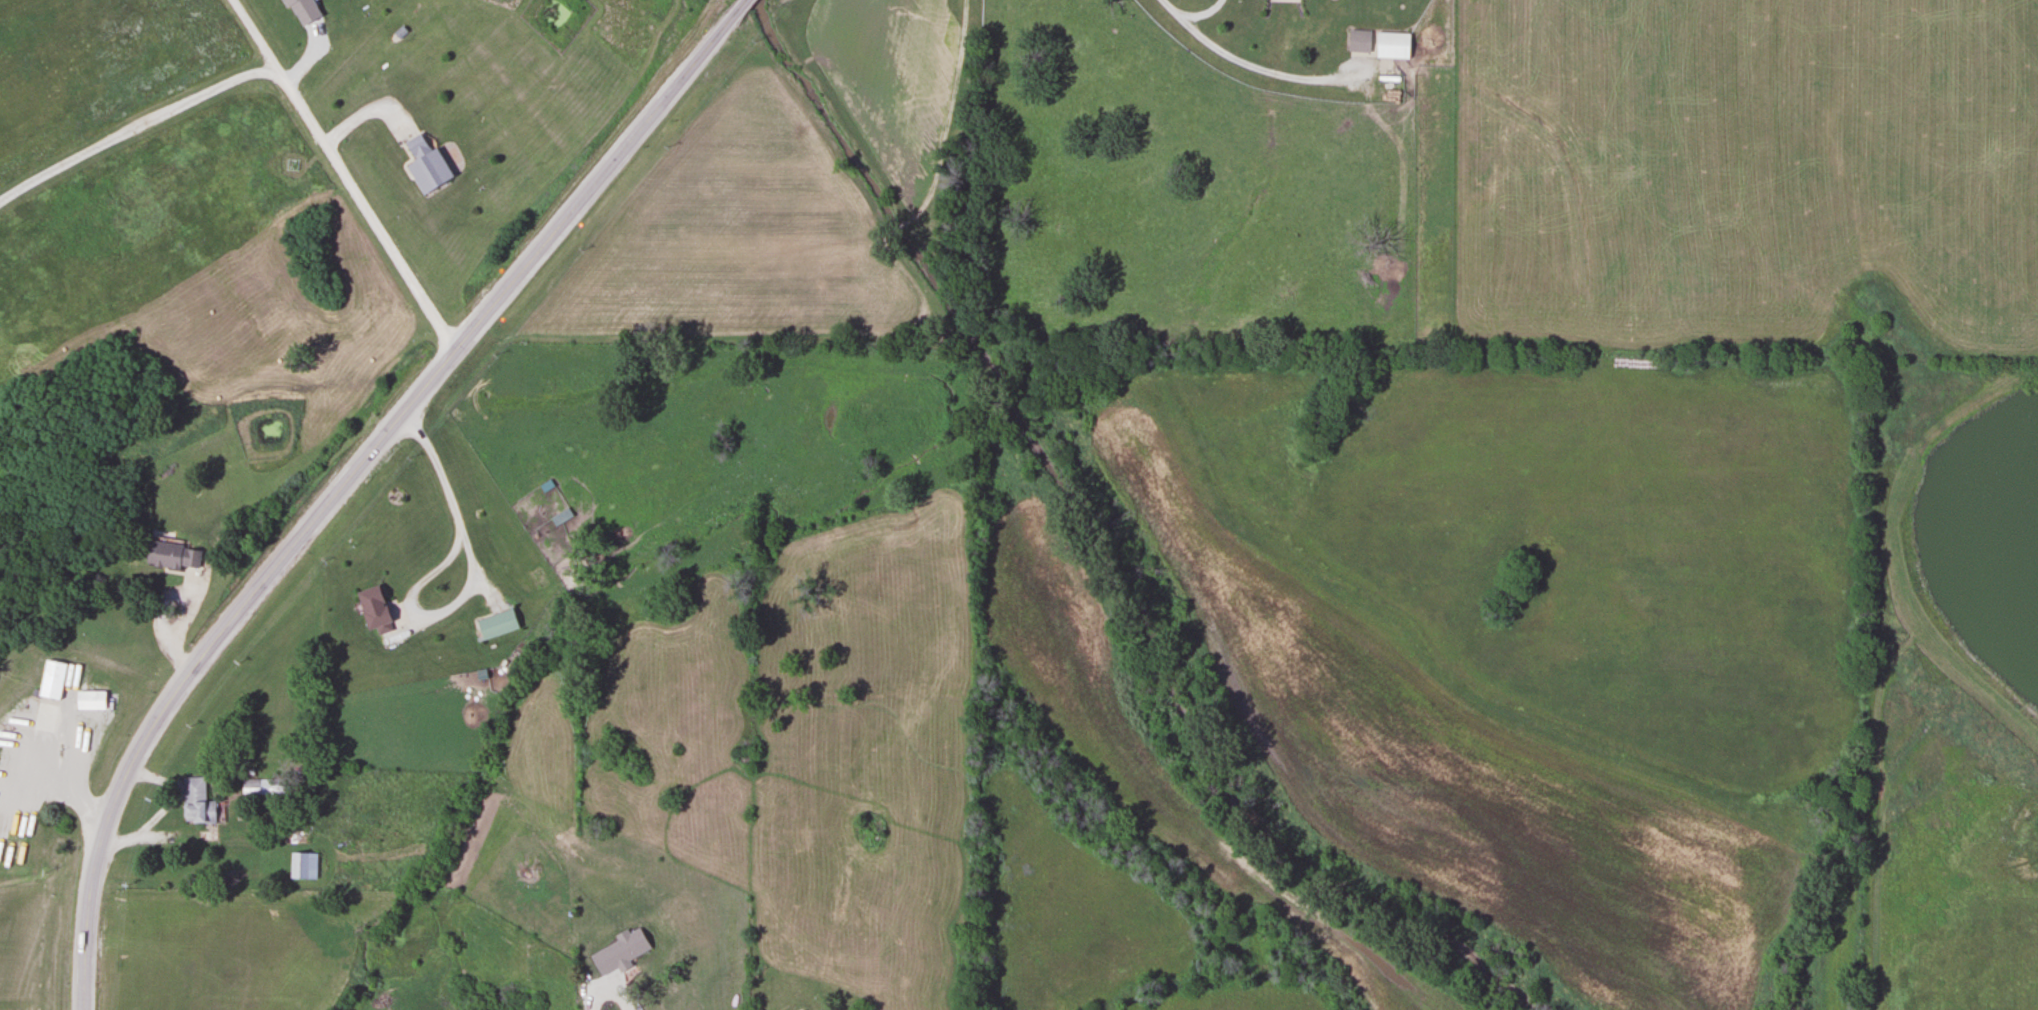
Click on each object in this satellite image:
building: (300, 11)
building: (1357, 41)
building: (1391, 45)
building: (422, 165)
road: (343, 173)
road: (527, 259)
building: (171, 554)
park: (37, 580)
building: (372, 608)
building: (495, 624)
building: (52, 679)
building: (88, 699)
road: (140, 741)
road: (68, 778)
building: (254, 785)
building: (194, 801)
building: (301, 864)

